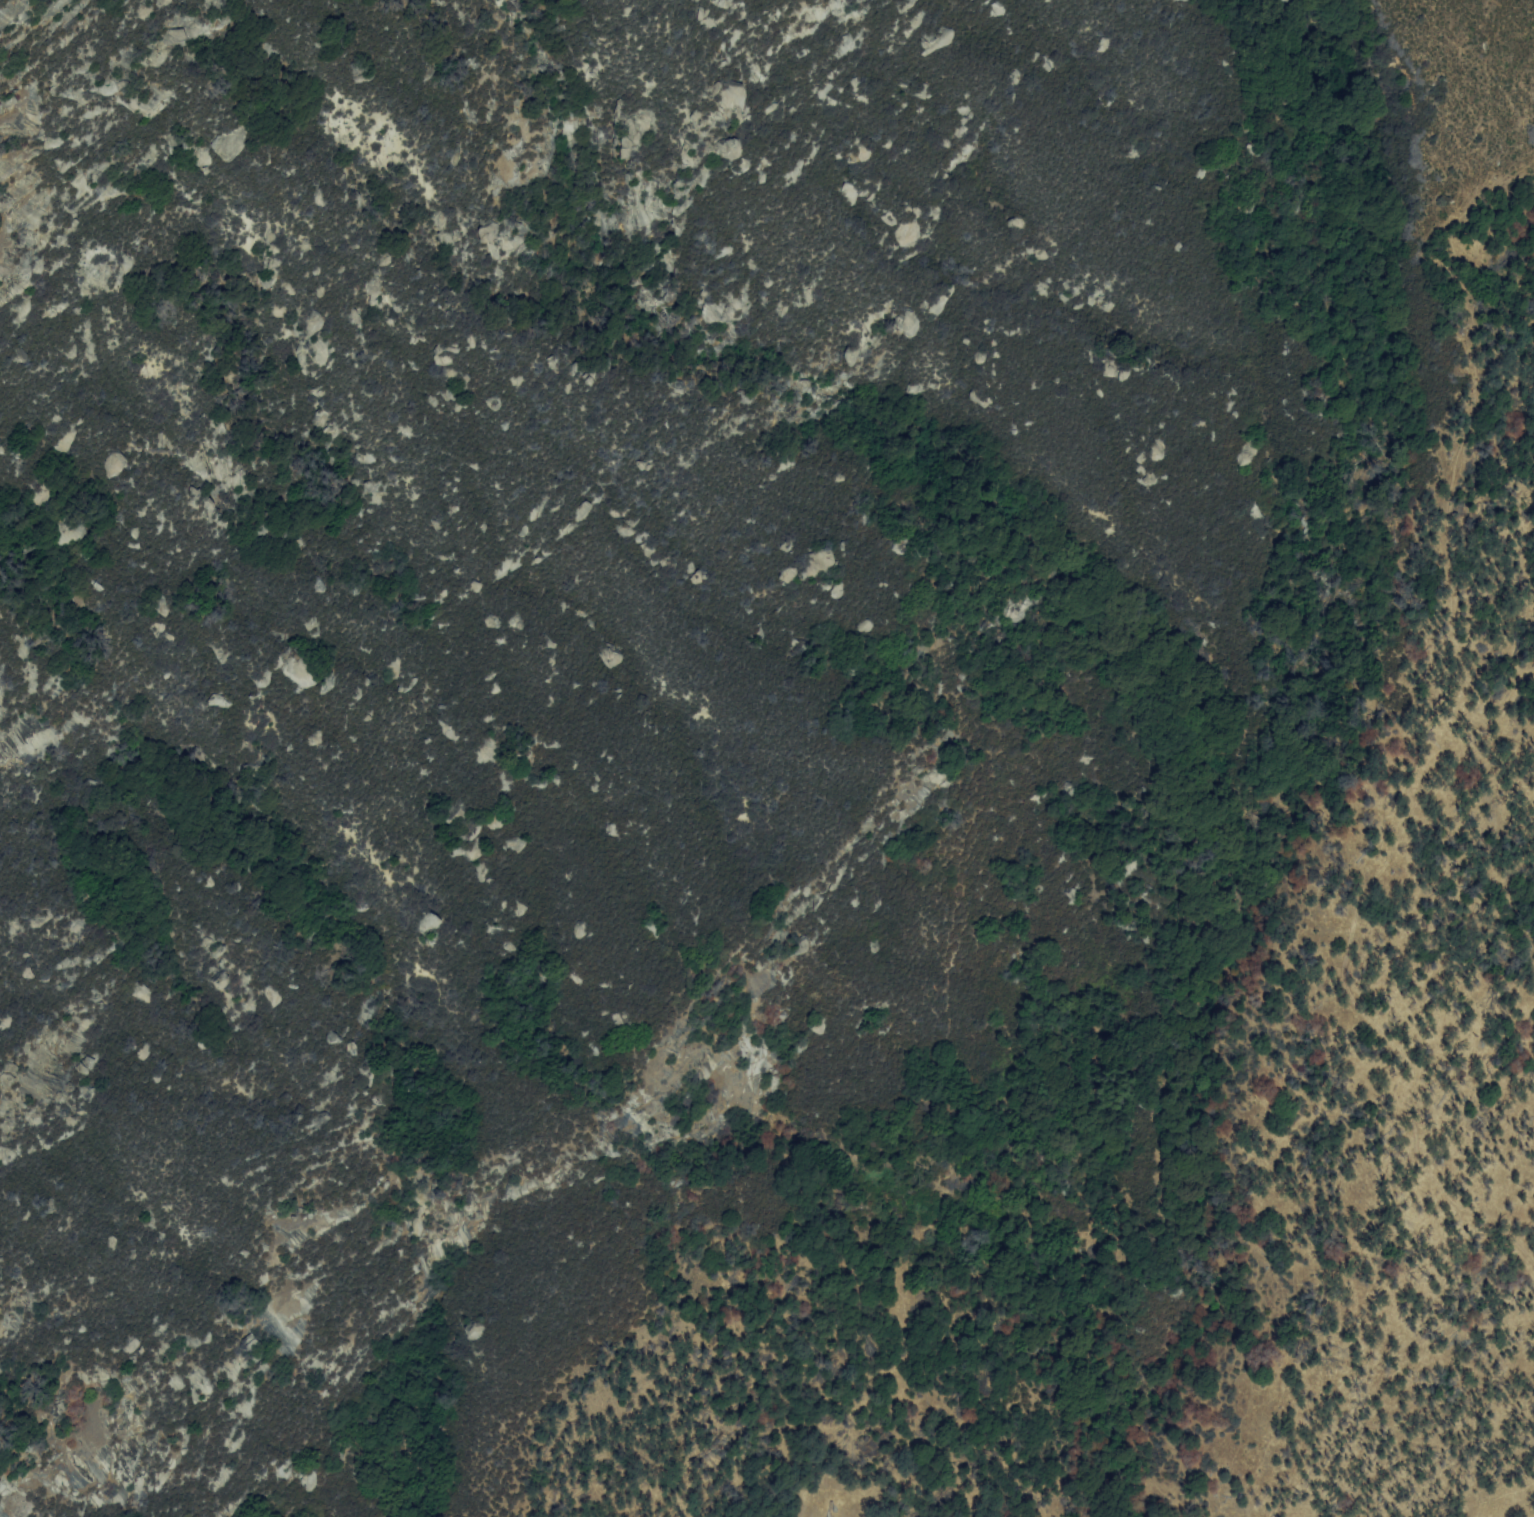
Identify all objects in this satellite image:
building: (614, 1020)

